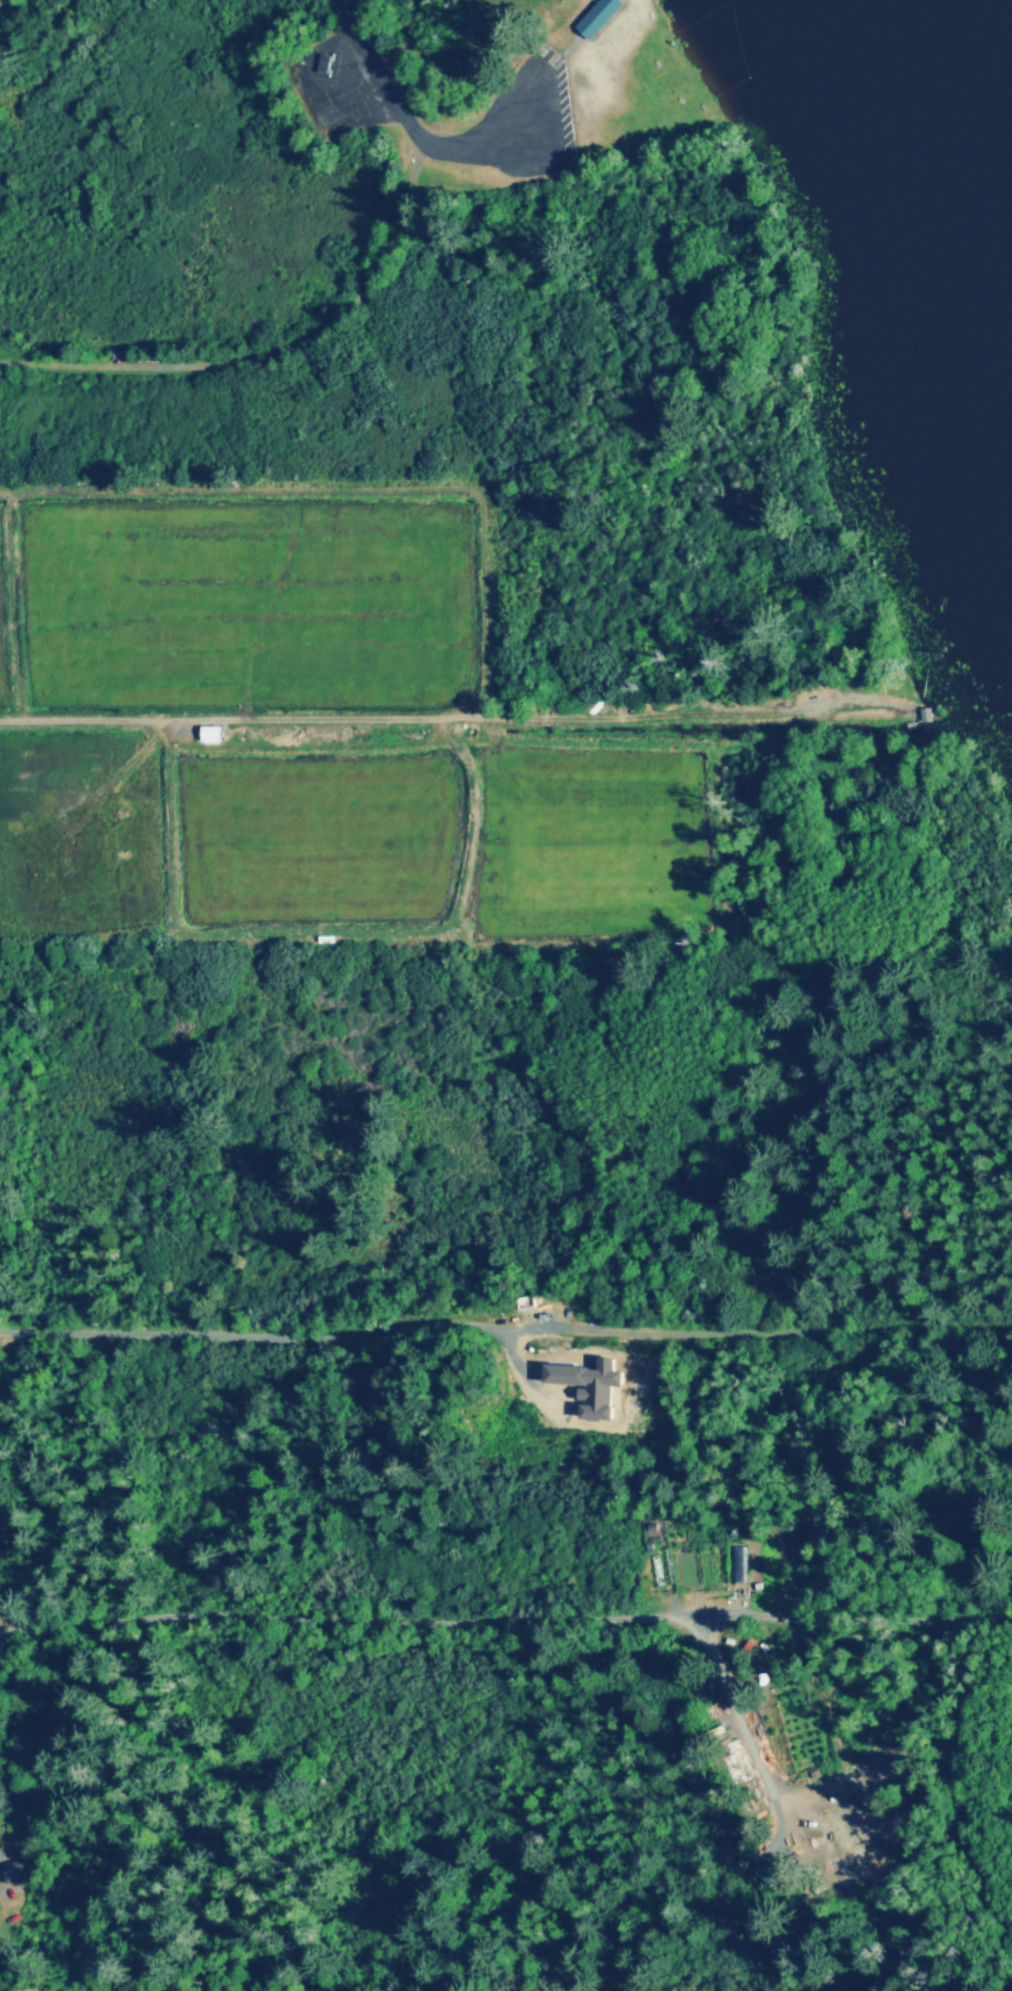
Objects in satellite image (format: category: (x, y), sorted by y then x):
building: (600, 17)
building: (326, 64)
road: (447, 148)
road: (273, 356)
road: (505, 1330)
building: (741, 1565)
road: (505, 1623)
building: (14, 1873)

